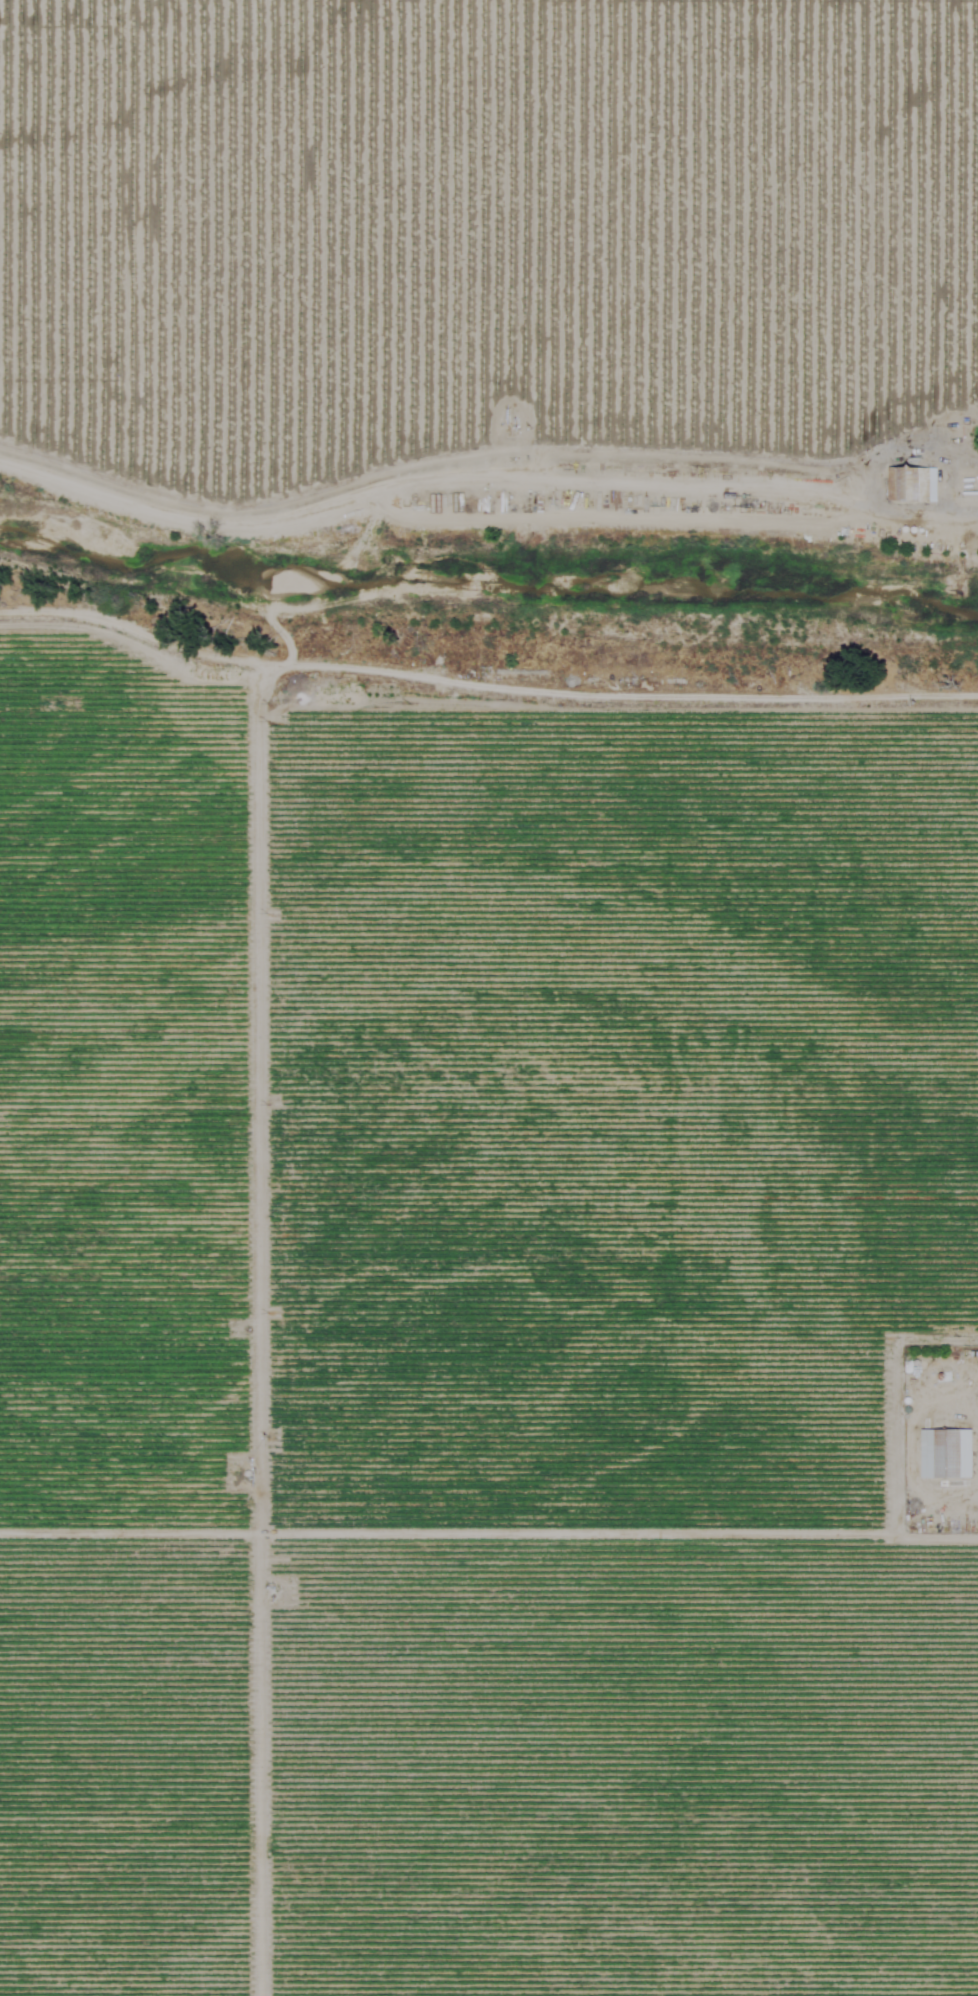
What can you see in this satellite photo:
crop: (485, 236)
road: (938, 438)
river: (485, 582)
road: (956, 1402)
building: (940, 1455)

